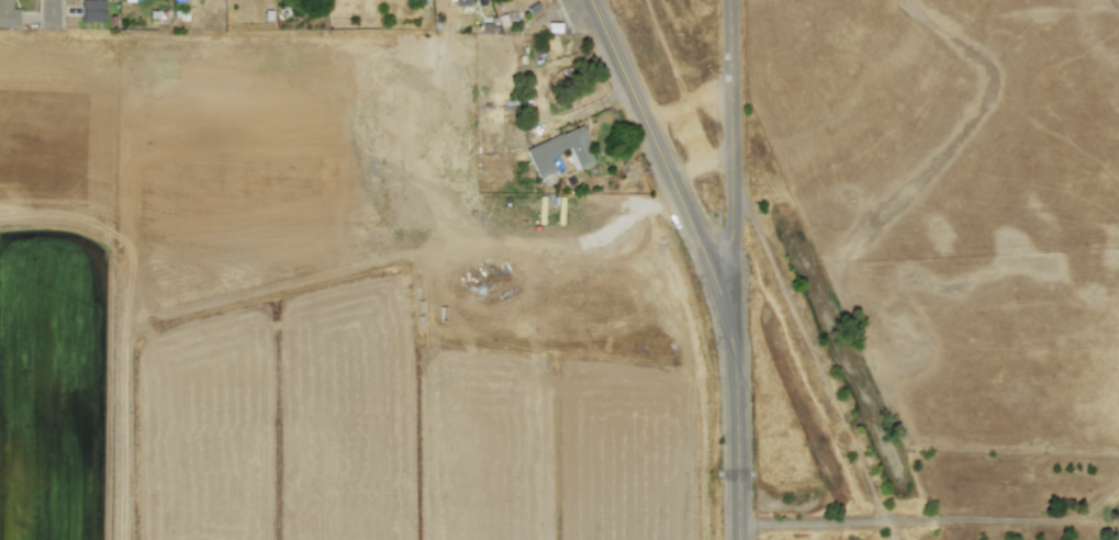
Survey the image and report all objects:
building: (457, 1)
building: (91, 10)
building: (8, 14)
road: (55, 19)
building: (559, 151)
road: (661, 156)
road: (734, 269)
road: (933, 519)

